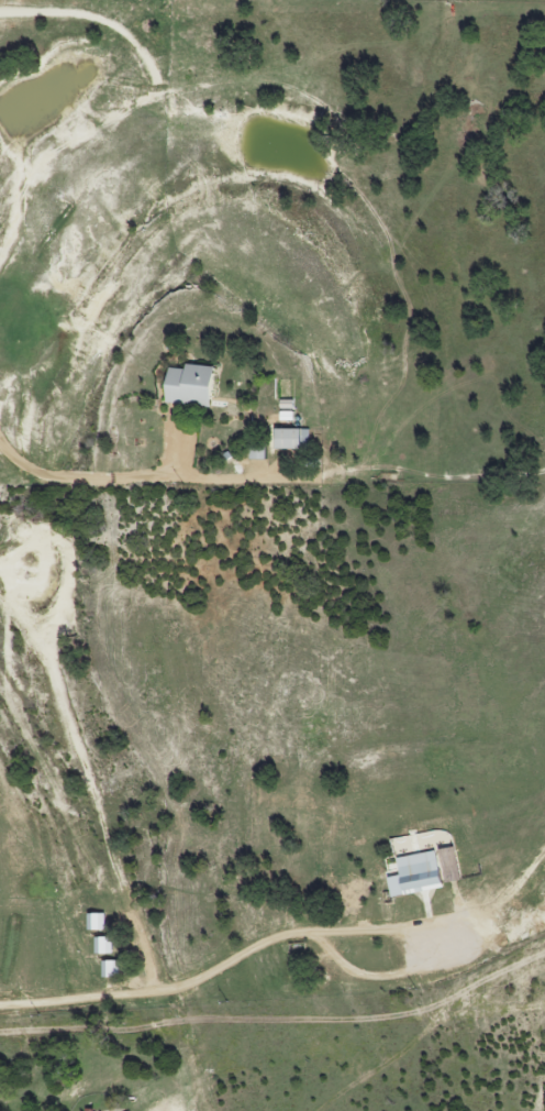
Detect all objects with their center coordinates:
building: (182, 386)
building: (285, 439)
building: (253, 452)
road: (132, 479)
road: (82, 778)
road: (219, 970)

